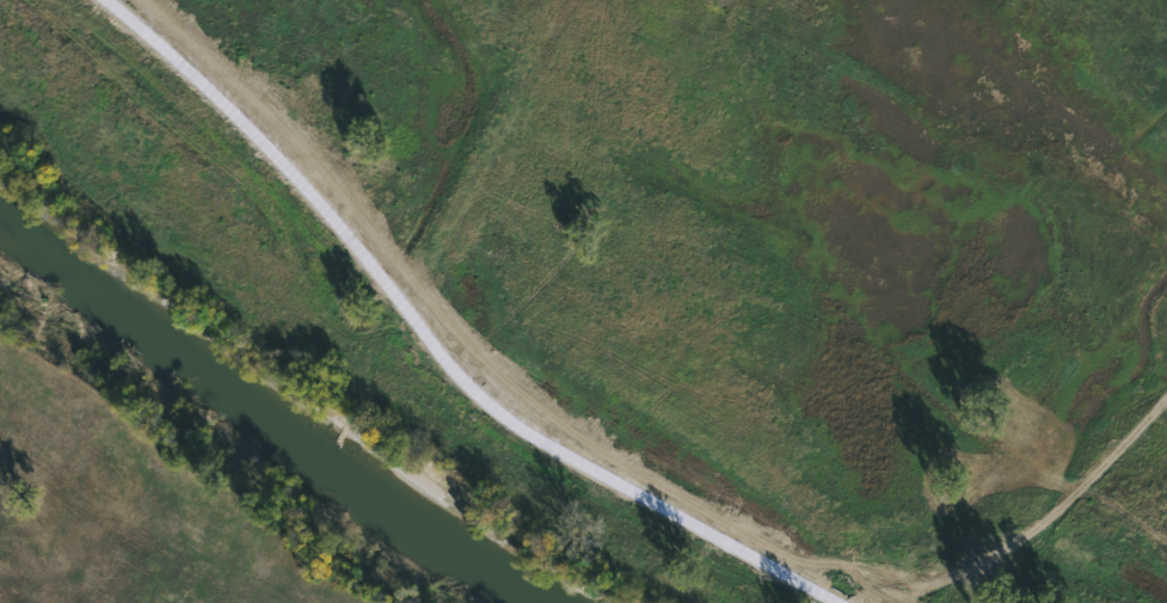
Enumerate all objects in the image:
park: (583, 301)
river: (280, 419)

